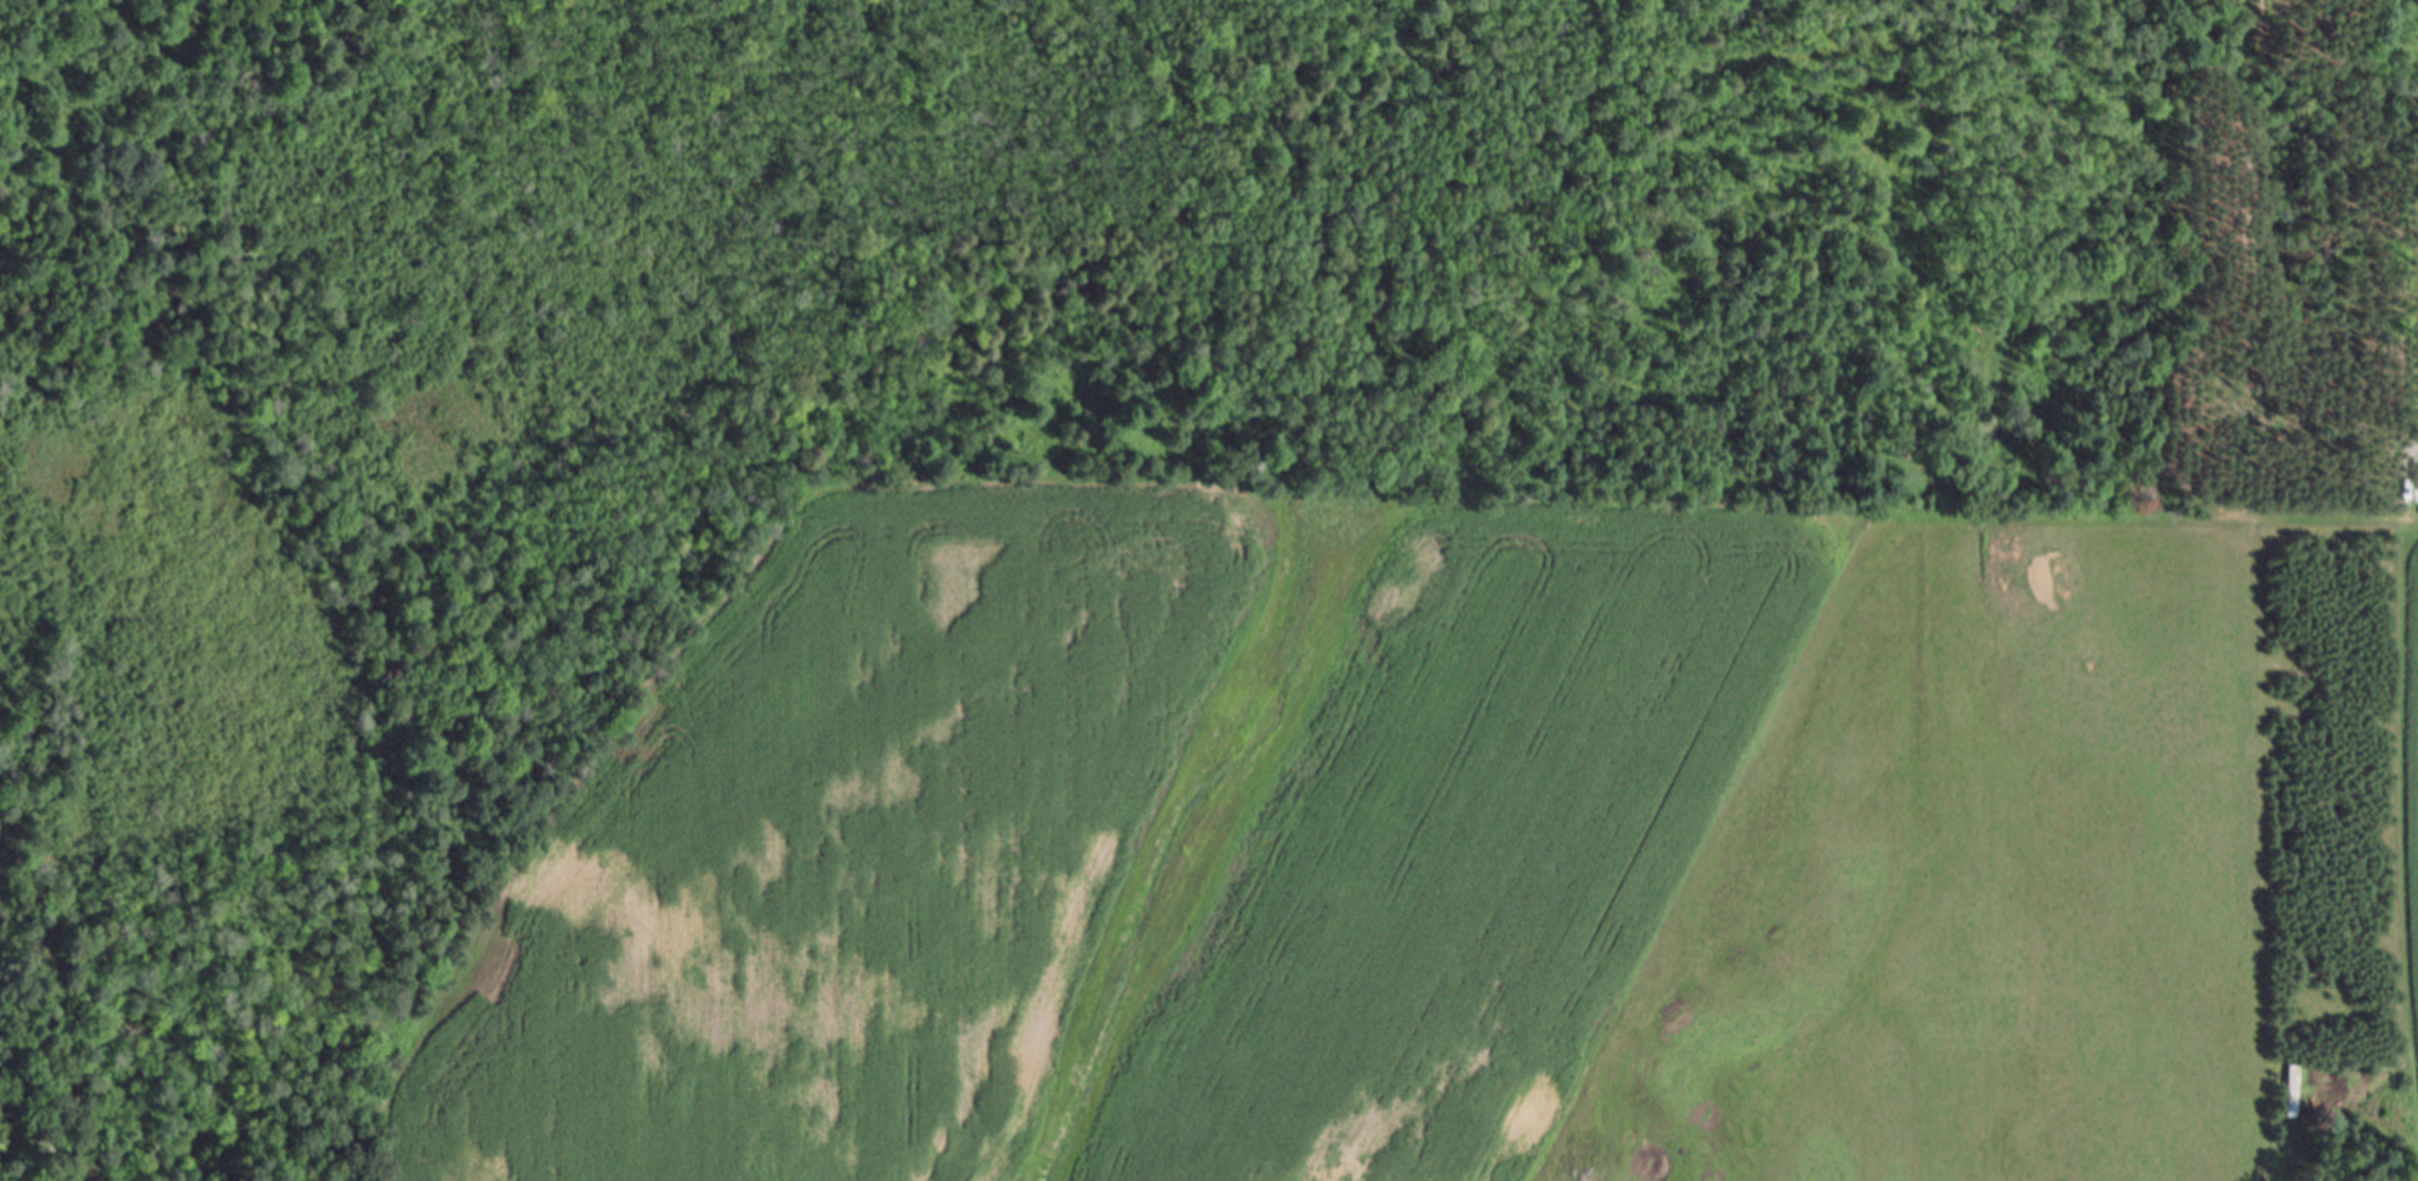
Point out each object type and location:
building: (2291, 1091)

